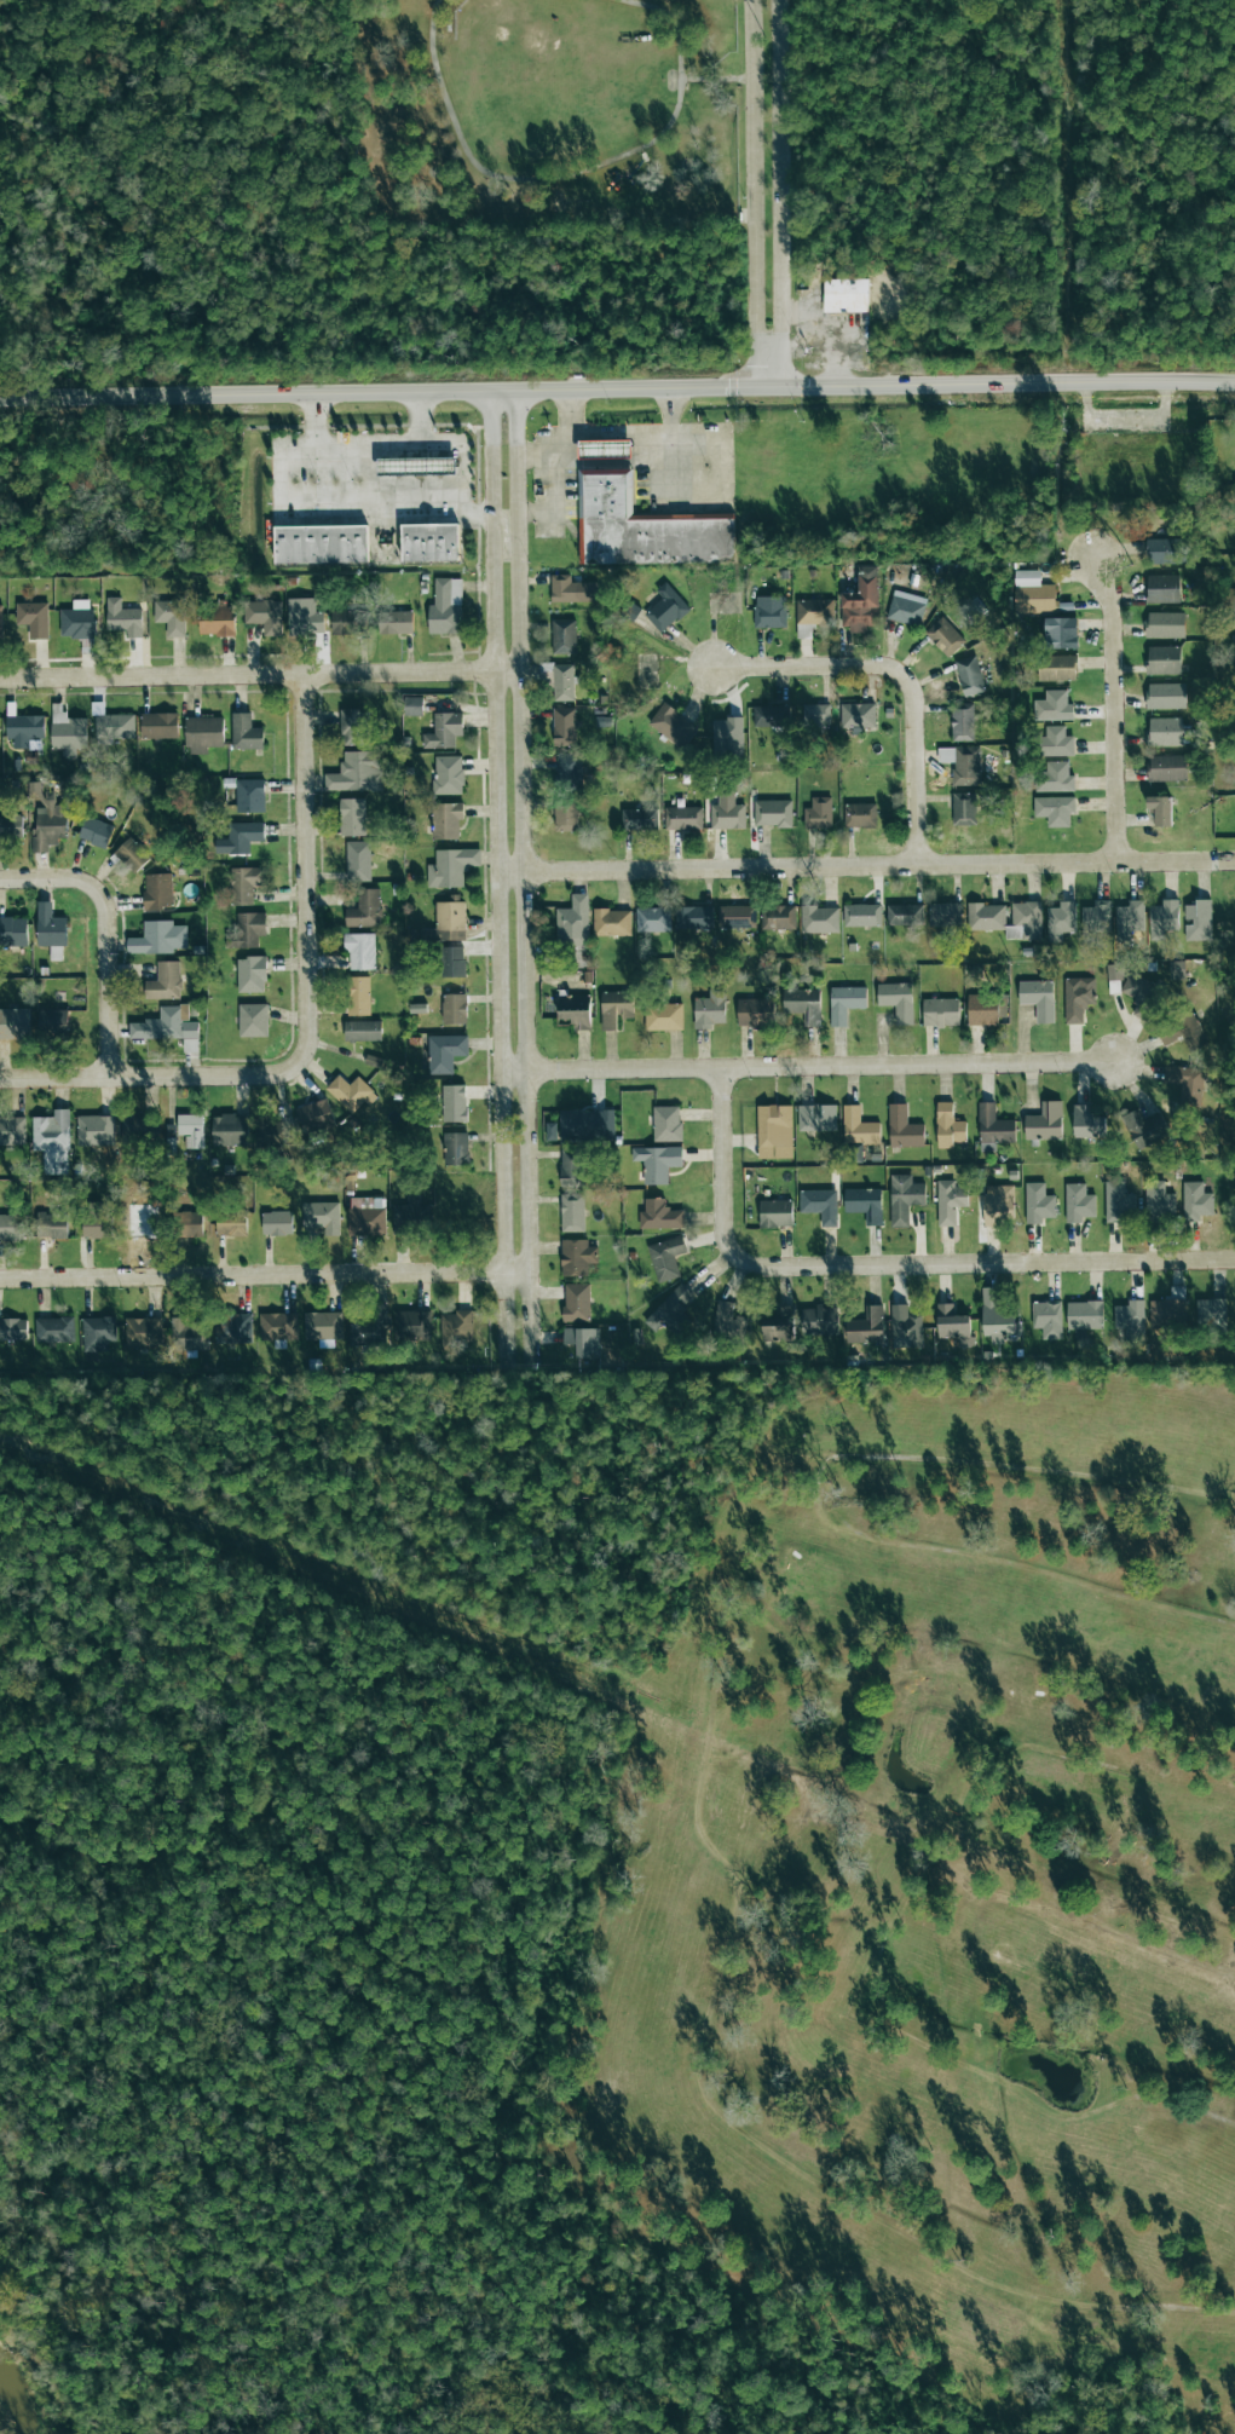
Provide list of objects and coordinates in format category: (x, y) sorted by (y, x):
road: (717, 79)
road: (779, 165)
road: (755, 167)
road: (575, 173)
building: (848, 294)
road: (777, 358)
road: (766, 361)
road: (1004, 385)
traffic signals: (773, 388)
road: (386, 394)
road: (573, 406)
road: (680, 408)
road: (518, 417)
road: (491, 420)
road: (1129, 422)
road: (619, 423)
road: (1095, 444)
road: (340, 446)
road: (458, 448)
building: (608, 448)
road: (588, 460)
road: (721, 463)
building: (415, 465)
road: (664, 481)
road: (543, 494)
road: (328, 501)
road: (696, 501)
road: (531, 513)
building: (650, 527)
building: (426, 541)
building: (319, 543)
building: (1166, 550)
building: (1164, 588)
building: (571, 589)
building: (1034, 592)
building: (861, 600)
building: (445, 606)
building: (666, 607)
building: (906, 607)
building: (725, 610)
building: (769, 611)
building: (630, 612)
building: (814, 612)
building: (264, 615)
building: (171, 616)
building: (304, 616)
building: (123, 617)
building: (33, 618)
building: (77, 619)
building: (215, 621)
building: (0, 622)
building: (396, 622)
building: (346, 623)
building: (1164, 624)
building: (1060, 633)
building: (564, 636)
building: (943, 636)
building: (1164, 659)
building: (1057, 668)
building: (969, 675)
road: (260, 679)
road: (905, 680)
building: (562, 682)
building: (1166, 696)
building: (412, 705)
building: (1054, 705)
road: (1114, 709)
building: (816, 714)
building: (771, 715)
building: (859, 715)
building: (962, 721)
building: (160, 726)
building: (352, 726)
building: (565, 726)
building: (671, 726)
building: (114, 727)
building: (24, 729)
building: (443, 729)
building: (67, 731)
building: (1167, 731)
building: (246, 732)
building: (203, 733)
building: (727, 738)
building: (1056, 742)
building: (962, 763)
building: (1167, 767)
building: (357, 772)
building: (569, 772)
building: (448, 774)
building: (1055, 777)
building: (249, 795)
building: (964, 808)
building: (1054, 809)
building: (1160, 809)
building: (727, 811)
building: (818, 812)
building: (773, 813)
building: (566, 814)
building: (860, 814)
building: (352, 817)
building: (682, 818)
building: (446, 819)
building: (640, 819)
building: (0, 826)
building: (48, 826)
building: (96, 831)
building: (240, 837)
road: (310, 838)
building: (133, 854)
building: (358, 860)
building: (451, 866)
road: (866, 867)
building: (244, 883)
building: (157, 890)
road: (525, 900)
building: (364, 909)
building: (945, 913)
building: (861, 915)
building: (905, 915)
building: (986, 915)
building: (737, 916)
road: (498, 917)
building: (694, 917)
building: (778, 917)
building: (653, 918)
building: (818, 918)
building: (1129, 918)
building: (1162, 918)
building: (1061, 919)
building: (450, 921)
building: (1096, 921)
building: (1198, 921)
building: (572, 922)
building: (611, 922)
building: (249, 927)
building: (51, 929)
building: (13, 930)
road: (109, 933)
building: (158, 938)
building: (360, 951)
building: (452, 962)
building: (250, 973)
building: (165, 981)
building: (358, 996)
building: (1142, 996)
building: (1078, 997)
building: (1038, 998)
building: (896, 999)
building: (844, 1003)
building: (803, 1004)
building: (454, 1008)
building: (614, 1008)
building: (709, 1009)
building: (982, 1009)
building: (575, 1010)
building: (754, 1011)
building: (940, 1011)
building: (663, 1017)
building: (253, 1019)
building: (53, 1021)
building: (15, 1022)
building: (166, 1025)
building: (363, 1031)
building: (1184, 1032)
building: (444, 1051)
road: (810, 1068)
road: (187, 1079)
building: (1185, 1082)
building: (351, 1092)
building: (454, 1103)
building: (314, 1115)
building: (816, 1118)
building: (1045, 1121)
building: (1087, 1121)
building: (666, 1123)
building: (587, 1125)
building: (774, 1125)
building: (859, 1126)
building: (948, 1126)
building: (904, 1127)
building: (993, 1127)
building: (1144, 1127)
building: (96, 1129)
building: (191, 1129)
building: (230, 1129)
building: (137, 1130)
building: (12, 1131)
building: (273, 1131)
building: (52, 1141)
building: (455, 1148)
building: (658, 1161)
building: (572, 1167)
building: (904, 1198)
building: (1159, 1200)
building: (1196, 1200)
building: (950, 1201)
building: (1118, 1201)
building: (1038, 1202)
building: (1078, 1202)
building: (820, 1204)
building: (865, 1204)
building: (998, 1205)
building: (572, 1212)
building: (775, 1213)
building: (365, 1215)
building: (659, 1215)
building: (411, 1216)
building: (321, 1217)
building: (97, 1222)
building: (231, 1223)
building: (277, 1223)
building: (194, 1224)
building: (11, 1225)
building: (51, 1225)
building: (576, 1257)
building: (666, 1257)
road: (887, 1264)
road: (265, 1279)
building: (576, 1302)
building: (670, 1309)
building: (1168, 1309)
building: (1211, 1313)
building: (1084, 1315)
building: (995, 1319)
building: (1048, 1319)
building: (820, 1320)
building: (1131, 1321)
building: (728, 1322)
building: (411, 1323)
building: (905, 1323)
building: (323, 1325)
building: (779, 1325)
building: (953, 1325)
building: (277, 1326)
building: (368, 1326)
building: (457, 1326)
building: (866, 1326)
building: (13, 1328)
building: (232, 1328)
building: (53, 1330)
building: (98, 1332)
building: (143, 1332)
building: (186, 1337)
building: (583, 1342)
park: (618, 1901)
river: (10, 2400)

